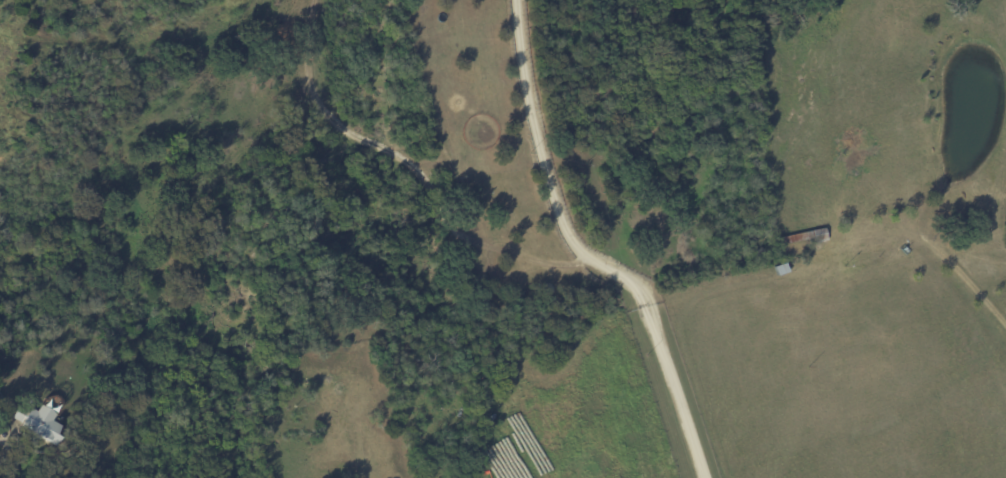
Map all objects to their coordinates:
building: (817, 236)
road: (588, 252)
building: (33, 423)
road: (5, 452)

